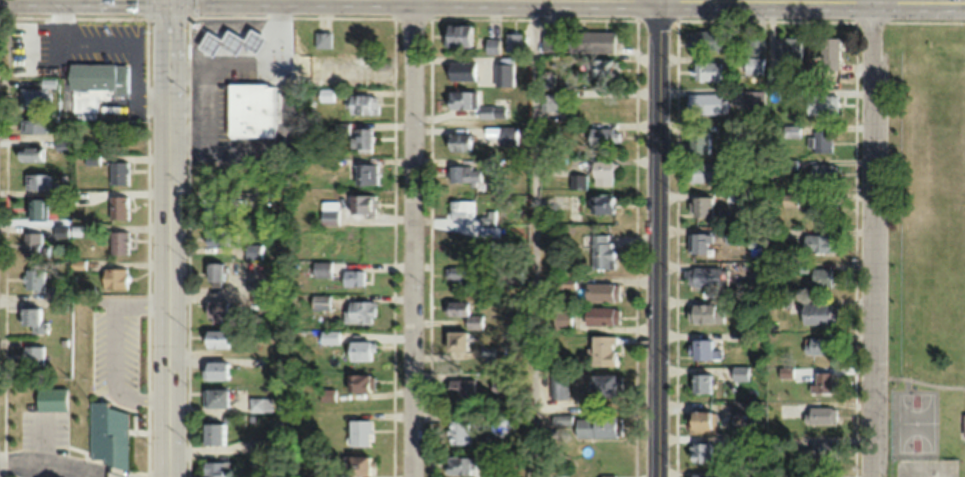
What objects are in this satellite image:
road: (917, 0)
building: (456, 34)
building: (322, 38)
building: (703, 39)
building: (231, 41)
building: (512, 41)
building: (590, 41)
building: (548, 42)
building: (788, 47)
building: (826, 54)
building: (753, 56)
building: (490, 63)
building: (601, 67)
building: (461, 69)
building: (706, 70)
building: (98, 76)
building: (326, 94)
building: (35, 97)
building: (461, 98)
building: (551, 101)
building: (754, 101)
building: (706, 102)
building: (360, 103)
building: (821, 104)
building: (250, 108)
building: (486, 111)
building: (33, 124)
building: (735, 133)
building: (508, 135)
building: (601, 136)
building: (363, 139)
building: (458, 141)
building: (699, 141)
building: (819, 141)
building: (31, 153)
building: (119, 172)
building: (602, 172)
building: (703, 172)
building: (820, 172)
building: (366, 173)
building: (36, 181)
building: (61, 190)
building: (573, 202)
building: (601, 202)
building: (361, 203)
building: (702, 205)
building: (118, 206)
building: (217, 206)
building: (461, 206)
building: (822, 207)
building: (39, 208)
building: (327, 216)
building: (215, 236)
building: (731, 236)
road: (171, 238)
road: (413, 238)
road: (534, 238)
road: (658, 238)
road: (870, 238)
building: (118, 242)
building: (699, 242)
building: (817, 243)
building: (33, 244)
building: (457, 245)
building: (254, 251)
building: (602, 251)
building: (322, 269)
building: (214, 271)
building: (757, 272)
building: (460, 274)
building: (703, 276)
building: (352, 277)
building: (821, 277)
building: (114, 278)
building: (33, 279)
building: (255, 287)
building: (601, 291)
building: (215, 311)
building: (358, 311)
building: (463, 312)
building: (818, 312)
building: (704, 313)
building: (601, 315)
building: (562, 317)
building: (34, 320)
building: (215, 338)
building: (456, 340)
building: (816, 345)
building: (359, 349)
building: (602, 350)
building: (703, 350)
building: (33, 355)
building: (215, 370)
building: (739, 372)
building: (823, 381)
building: (357, 382)
building: (700, 383)
building: (559, 384)
building: (601, 384)
building: (462, 387)
building: (327, 394)
building: (215, 397)
building: (260, 404)
building: (740, 412)
building: (822, 414)
building: (562, 419)
building: (699, 422)
building: (498, 424)
building: (963, 424)
building: (597, 426)
building: (459, 431)
building: (359, 432)
building: (213, 433)
building: (108, 437)
building: (741, 442)
building: (780, 442)
building: (820, 450)
building: (699, 451)
building: (357, 464)
building: (457, 464)
building: (216, 469)
building: (700, 474)
building: (824, 474)

